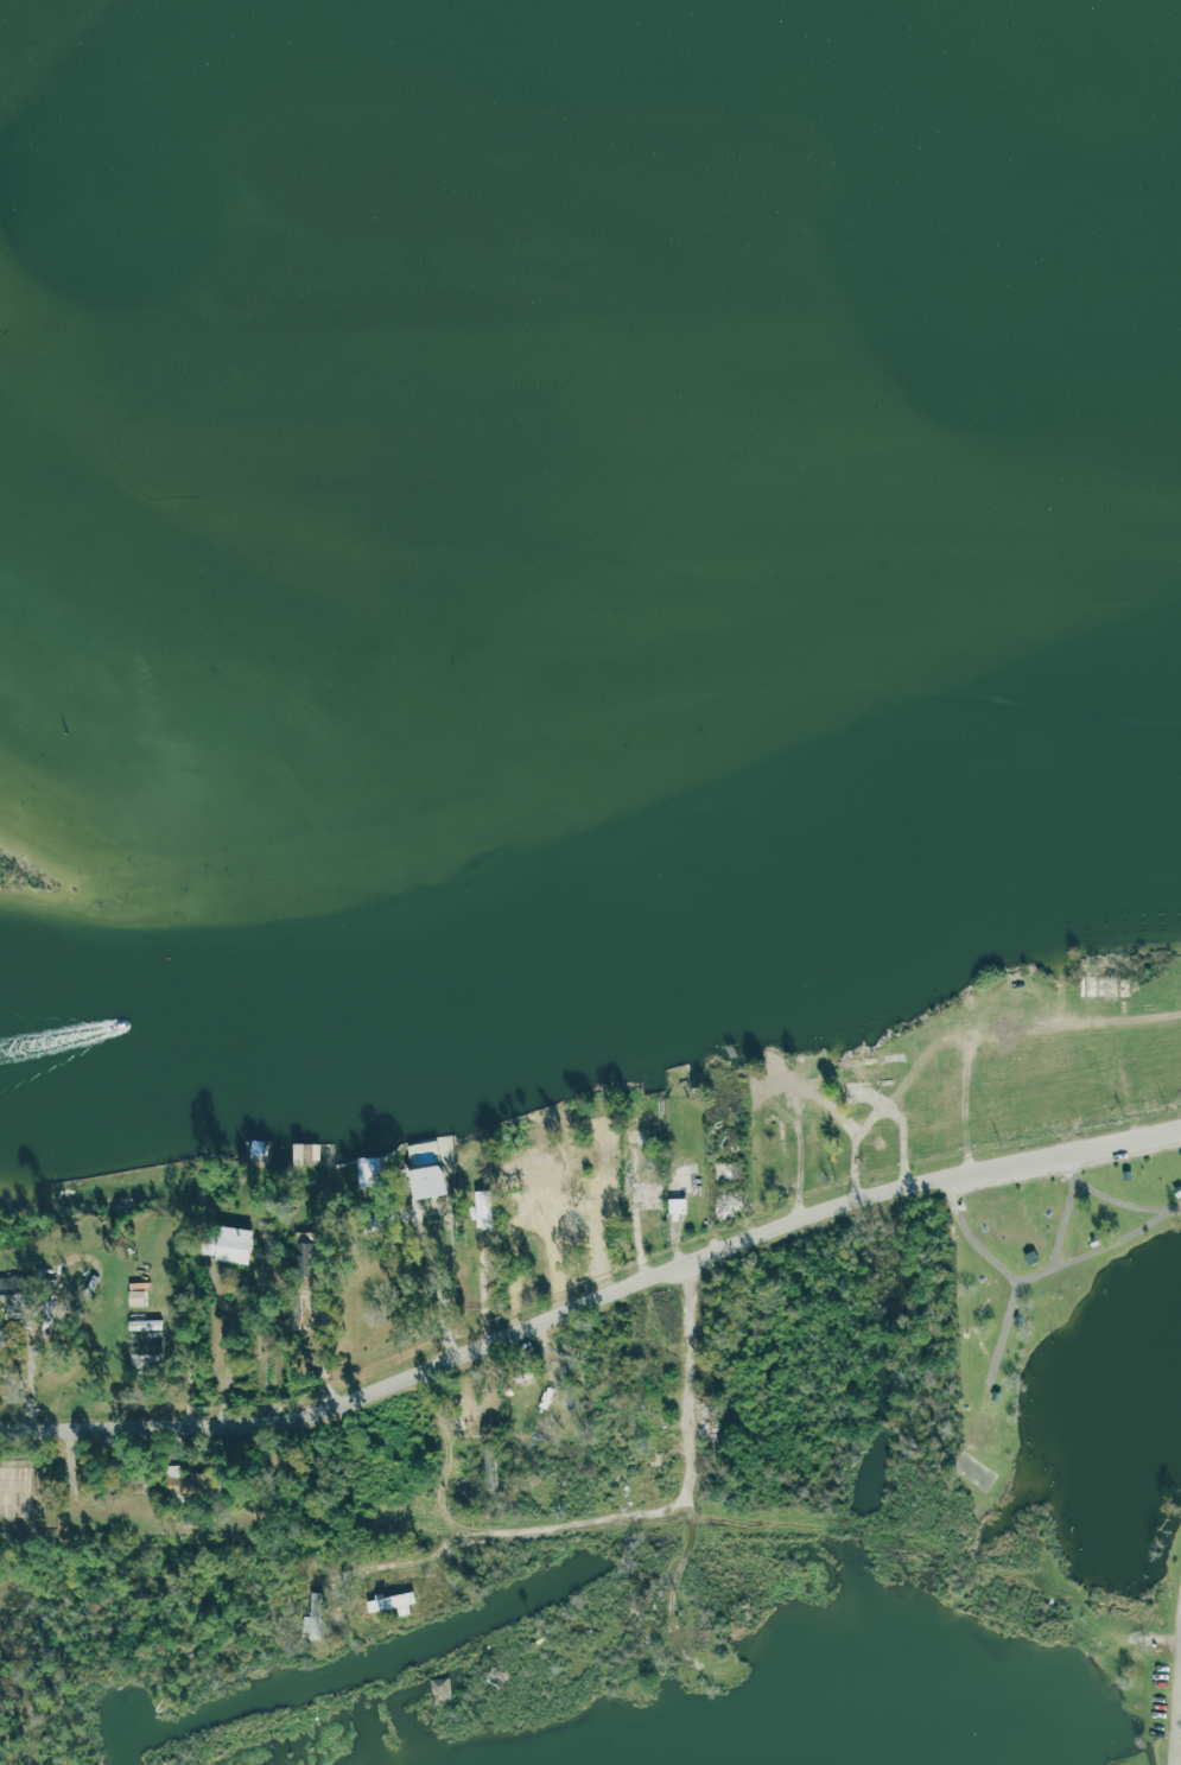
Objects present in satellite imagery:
building: (877, 1071)
building: (686, 1081)
building: (545, 1090)
building: (198, 1139)
building: (291, 1153)
building: (522, 1168)
building: (363, 1170)
building: (725, 1170)
building: (420, 1180)
building: (684, 1180)
building: (649, 1192)
building: (599, 1198)
building: (677, 1205)
road: (636, 1220)
road: (515, 1224)
building: (564, 1226)
building: (228, 1244)
building: (306, 1259)
road: (1049, 1272)
road: (445, 1284)
road: (592, 1303)
road: (1021, 1329)
building: (145, 1342)
park: (971, 1342)
road: (324, 1347)
road: (229, 1358)
road: (28, 1378)
road: (703, 1385)
road: (439, 1455)
road: (578, 1526)
road: (381, 1564)
building: (391, 1602)
building: (439, 1691)
road: (1180, 1756)

